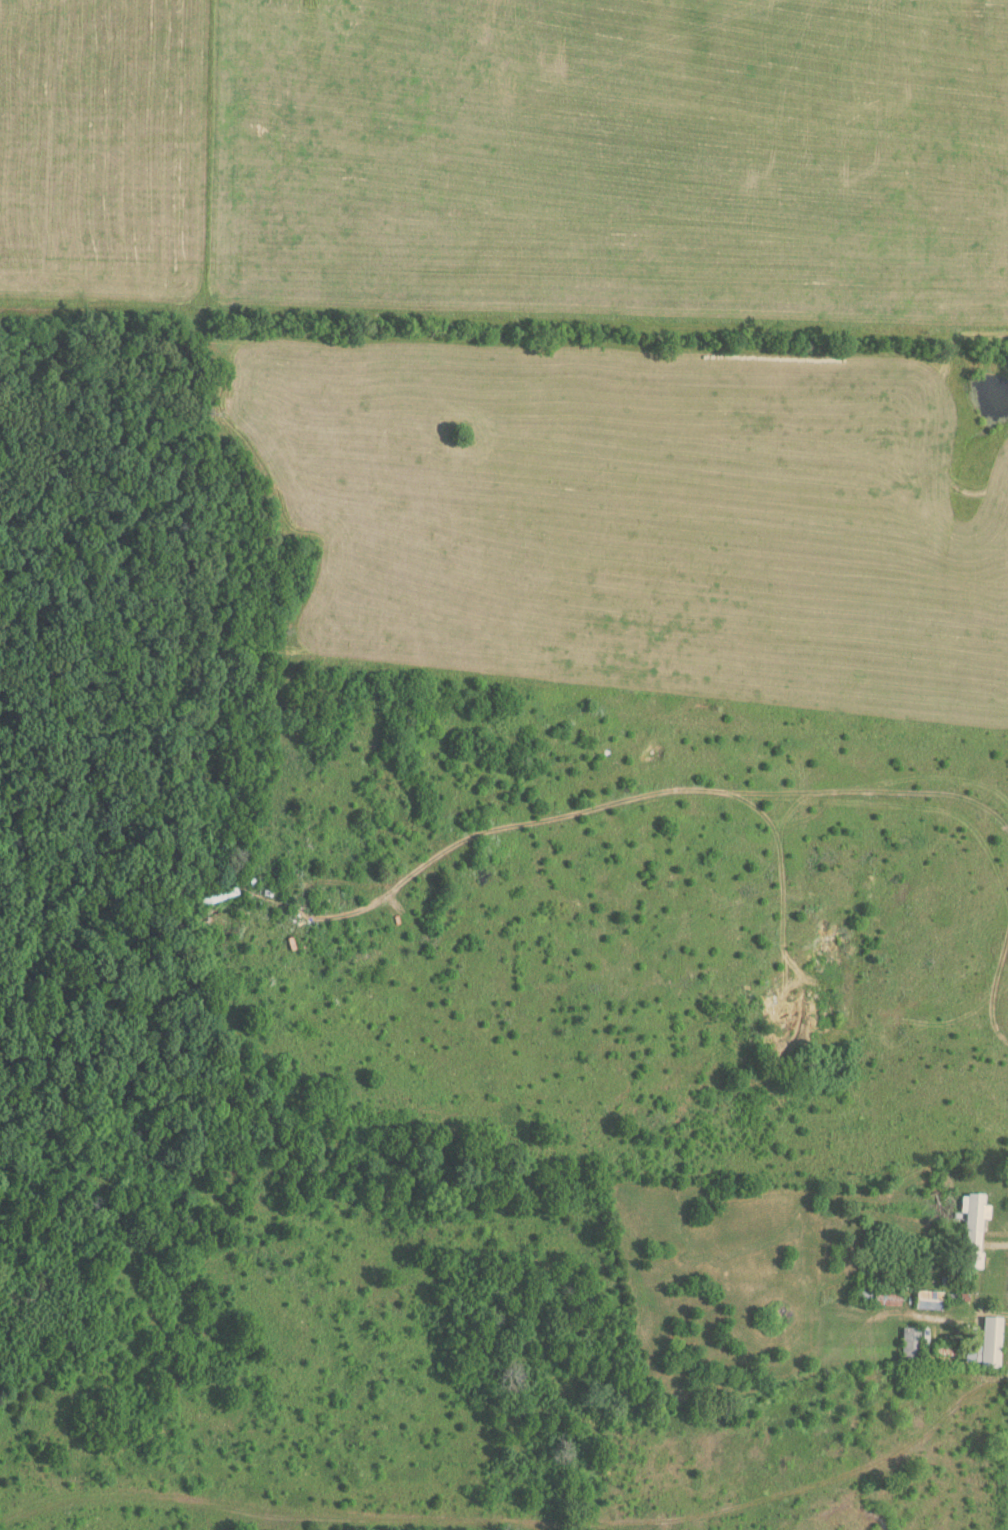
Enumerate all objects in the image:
building: (970, 1230)
building: (904, 1268)
building: (874, 1298)
building: (925, 1300)
building: (987, 1342)
building: (907, 1343)
building: (967, 1354)

